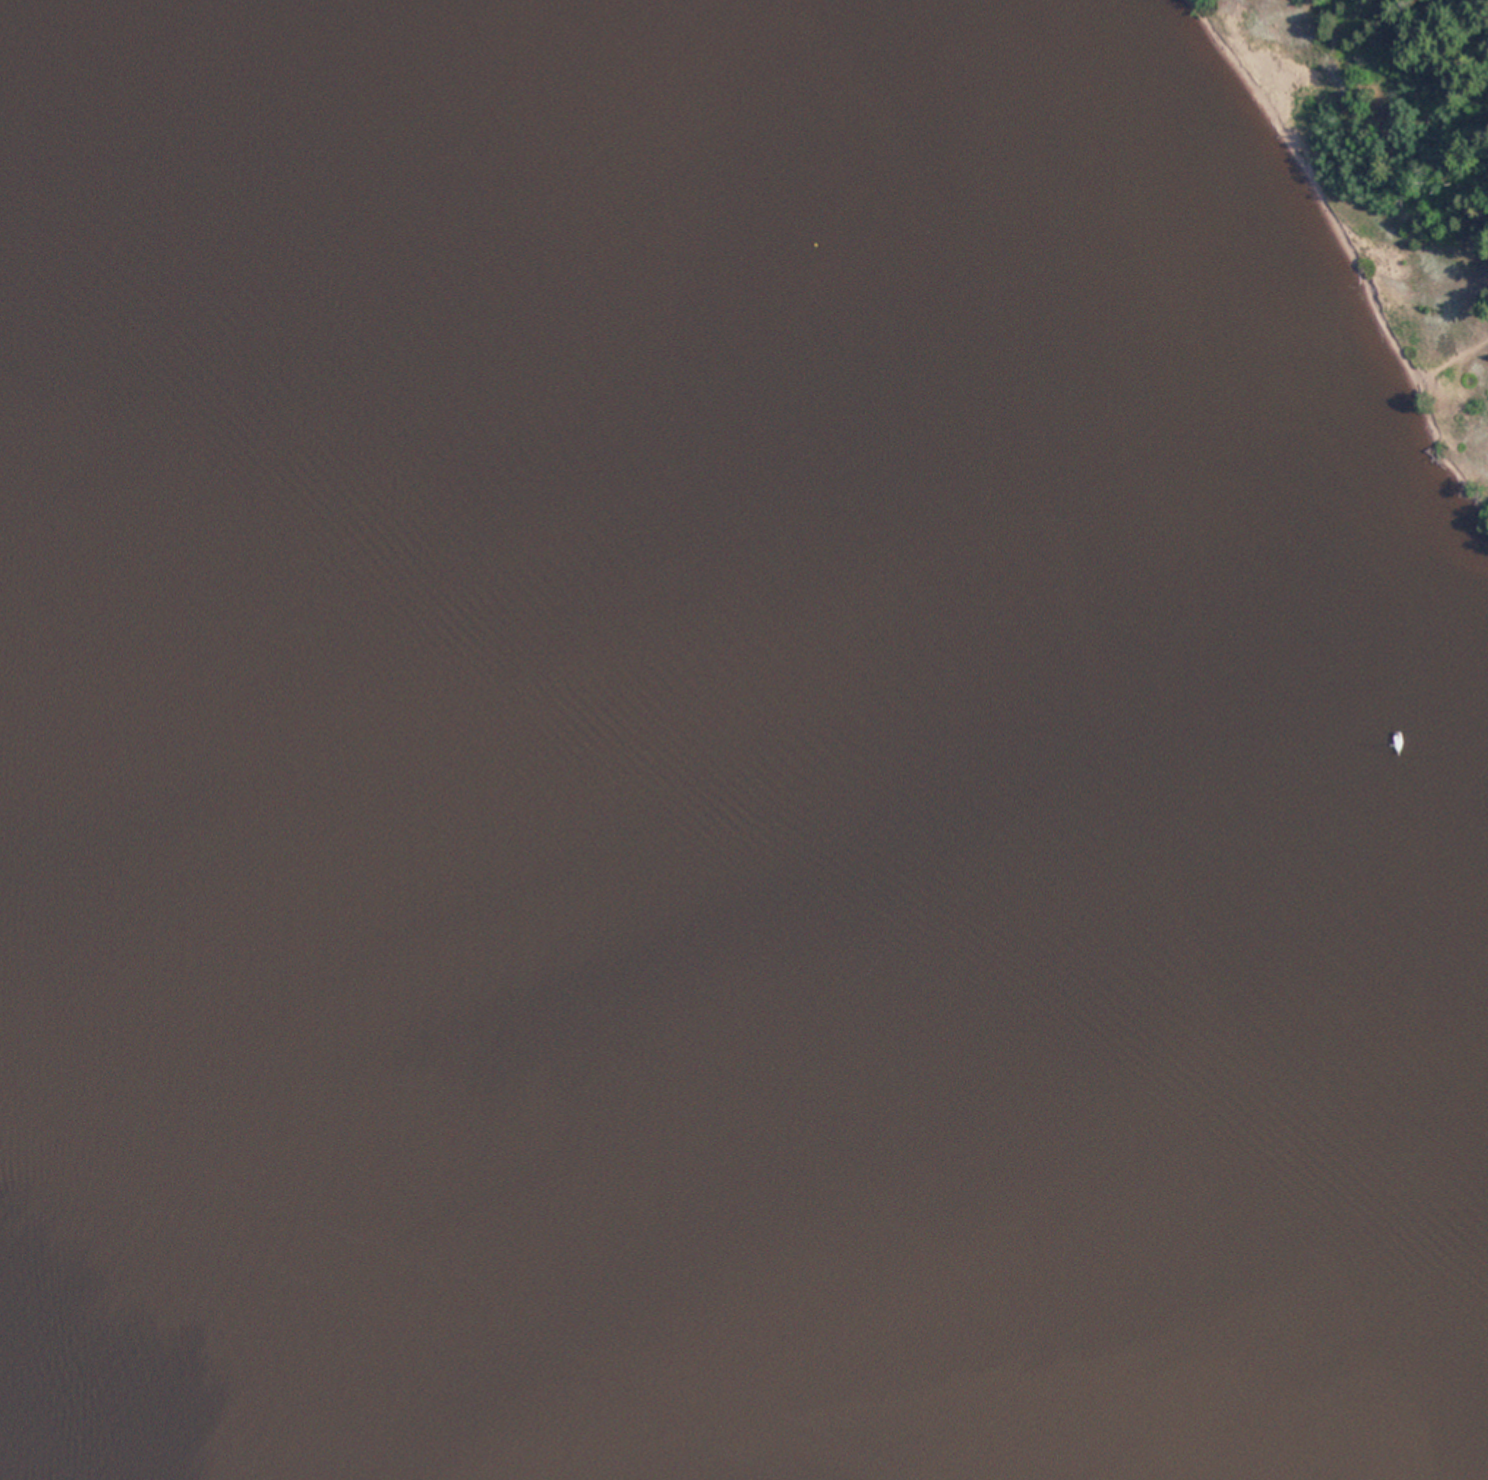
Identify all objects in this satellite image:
road: (1451, 50)

